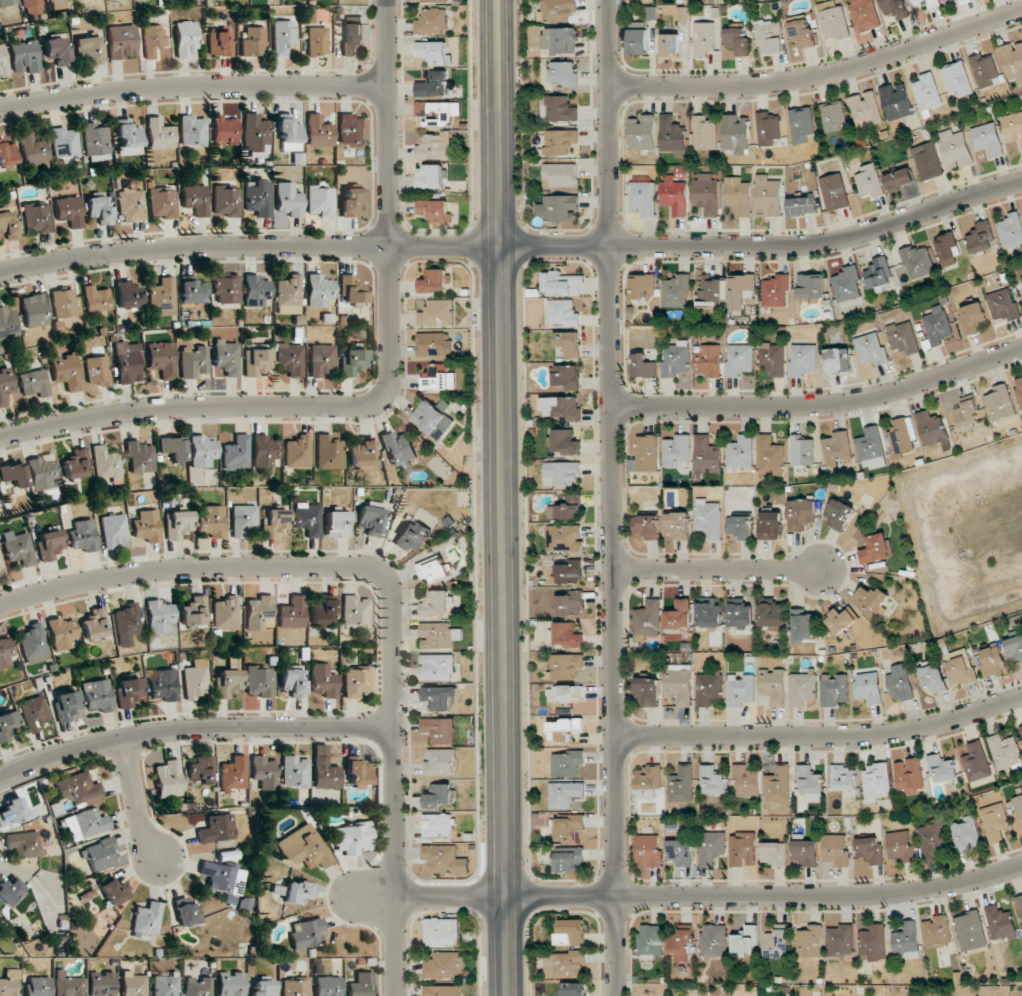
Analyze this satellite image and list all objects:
building: (48, 0)
building: (433, 1)
building: (7, 2)
building: (929, 3)
building: (32, 7)
building: (895, 8)
building: (557, 10)
building: (864, 14)
building: (432, 21)
building: (834, 22)
building: (801, 33)
building: (283, 37)
building: (769, 37)
building: (352, 38)
building: (185, 39)
building: (703, 39)
building: (152, 40)
building: (560, 40)
building: (122, 41)
building: (253, 41)
building: (317, 41)
building: (638, 41)
building: (220, 43)
building: (736, 43)
building: (670, 45)
building: (57, 50)
building: (88, 50)
building: (433, 52)
building: (24, 57)
building: (1012, 62)
building: (3, 63)
building: (985, 70)
building: (564, 73)
road: (820, 74)
building: (957, 79)
building: (432, 84)
road: (192, 88)
building: (927, 92)
building: (896, 101)
building: (866, 108)
building: (558, 109)
building: (437, 112)
building: (833, 116)
building: (801, 124)
building: (1013, 127)
building: (768, 128)
building: (351, 130)
building: (192, 131)
building: (224, 131)
building: (318, 131)
building: (255, 132)
building: (289, 133)
building: (642, 133)
building: (704, 133)
building: (159, 134)
building: (736, 134)
building: (672, 136)
building: (96, 138)
building: (129, 138)
building: (987, 139)
building: (561, 141)
building: (65, 143)
building: (434, 146)
building: (33, 149)
building: (955, 149)
building: (7, 156)
building: (927, 161)
building: (559, 175)
building: (430, 176)
building: (899, 179)
building: (868, 182)
building: (706, 192)
building: (834, 192)
building: (674, 195)
building: (738, 195)
building: (768, 195)
building: (643, 196)
building: (258, 197)
building: (195, 199)
building: (288, 200)
building: (226, 201)
building: (320, 201)
building: (352, 202)
building: (162, 203)
building: (131, 205)
building: (802, 205)
building: (558, 207)
building: (99, 210)
building: (68, 211)
building: (435, 211)
building: (37, 217)
building: (8, 226)
building: (1010, 230)
building: (980, 236)
road: (514, 246)
building: (947, 248)
building: (917, 261)
building: (434, 281)
building: (562, 284)
building: (847, 284)
building: (641, 285)
building: (810, 286)
building: (226, 289)
building: (352, 289)
building: (255, 290)
building: (318, 290)
building: (741, 290)
building: (676, 291)
building: (776, 291)
building: (193, 292)
building: (710, 292)
building: (127, 295)
building: (288, 295)
building: (162, 297)
building: (96, 299)
building: (65, 303)
building: (1003, 304)
building: (34, 311)
building: (562, 312)
building: (437, 313)
building: (972, 318)
building: (7, 322)
building: (937, 325)
building: (903, 337)
building: (568, 343)
building: (434, 344)
building: (871, 349)
building: (227, 357)
building: (290, 358)
building: (773, 358)
building: (161, 359)
building: (677, 359)
building: (739, 359)
building: (803, 359)
building: (321, 360)
building: (838, 360)
building: (193, 361)
building: (351, 361)
building: (709, 361)
building: (256, 362)
building: (127, 364)
building: (642, 366)
building: (97, 370)
building: (66, 371)
building: (566, 376)
building: (438, 379)
building: (33, 384)
building: (5, 385)
road: (382, 389)
building: (1019, 389)
building: (999, 403)
road: (821, 404)
building: (561, 407)
building: (965, 414)
building: (432, 418)
building: (931, 428)
building: (903, 435)
building: (564, 441)
building: (398, 448)
road: (613, 448)
building: (871, 448)
building: (173, 449)
building: (838, 449)
building: (802, 450)
building: (202, 451)
building: (264, 451)
building: (677, 451)
building: (297, 452)
building: (328, 452)
building: (741, 452)
building: (236, 453)
building: (646, 453)
building: (707, 455)
building: (770, 455)
building: (140, 456)
building: (360, 456)
building: (105, 462)
building: (75, 464)
building: (43, 472)
building: (562, 473)
building: (13, 475)
road: (499, 498)
building: (566, 508)
building: (802, 513)
building: (840, 514)
building: (370, 517)
building: (708, 518)
building: (308, 519)
building: (243, 521)
building: (211, 522)
building: (273, 522)
building: (337, 523)
building: (177, 524)
building: (678, 525)
building: (770, 525)
building: (146, 526)
building: (646, 526)
building: (113, 530)
building: (412, 535)
building: (82, 536)
building: (564, 538)
building: (49, 544)
building: (18, 548)
building: (875, 549)
building: (0, 563)
building: (433, 568)
building: (568, 570)
road: (717, 571)
road: (392, 589)
building: (872, 598)
building: (436, 603)
building: (570, 604)
building: (322, 610)
building: (194, 611)
building: (355, 611)
building: (225, 612)
building: (259, 612)
building: (292, 613)
building: (740, 613)
building: (709, 614)
building: (771, 615)
building: (679, 616)
building: (160, 618)
building: (648, 619)
building: (841, 620)
building: (94, 623)
building: (126, 623)
building: (803, 625)
building: (61, 633)
building: (439, 635)
building: (567, 635)
building: (33, 644)
building: (1014, 647)
building: (5, 652)
building: (992, 661)
building: (565, 666)
building: (436, 667)
building: (961, 668)
building: (933, 678)
building: (196, 680)
building: (259, 681)
building: (293, 681)
building: (324, 681)
building: (356, 681)
building: (900, 682)
building: (228, 683)
building: (679, 683)
building: (163, 685)
building: (773, 686)
building: (868, 687)
building: (803, 688)
building: (708, 689)
building: (834, 689)
building: (740, 690)
building: (649, 691)
building: (128, 692)
building: (567, 693)
building: (98, 695)
building: (439, 697)
building: (66, 705)
building: (34, 713)
building: (7, 725)
building: (1021, 728)
building: (563, 729)
building: (439, 730)
road: (193, 731)
road: (821, 735)
building: (1004, 751)
building: (440, 762)
building: (976, 762)
building: (566, 763)
building: (942, 768)
building: (324, 769)
building: (202, 770)
building: (294, 771)
building: (263, 772)
building: (233, 773)
building: (357, 773)
building: (908, 776)
building: (842, 778)
building: (168, 779)
building: (713, 781)
building: (746, 781)
building: (876, 782)
building: (810, 783)
building: (681, 784)
building: (778, 785)
building: (77, 788)
building: (564, 794)
building: (324, 795)
building: (438, 796)
road: (137, 802)
building: (1018, 806)
building: (12, 811)
building: (994, 821)
building: (85, 824)
building: (437, 825)
building: (569, 828)
building: (217, 829)
building: (966, 834)
building: (352, 838)
building: (932, 840)
building: (22, 844)
building: (900, 845)
building: (303, 847)
building: (711, 847)
building: (742, 849)
building: (648, 850)
building: (835, 850)
building: (871, 850)
building: (680, 852)
building: (806, 852)
building: (774, 853)
building: (99, 854)
building: (445, 859)
building: (569, 860)
building: (222, 877)
building: (9, 891)
building: (115, 891)
building: (298, 892)
road: (688, 898)
building: (1019, 905)
building: (188, 914)
building: (147, 919)
building: (1000, 922)
building: (937, 931)
building: (970, 931)
building: (441, 932)
building: (571, 932)
building: (307, 933)
building: (650, 940)
building: (746, 940)
building: (713, 941)
building: (810, 941)
building: (840, 941)
building: (906, 941)
building: (777, 943)
building: (873, 943)
building: (680, 944)
road: (617, 947)
building: (564, 964)
building: (444, 965)
building: (101, 983)
building: (230, 983)
building: (9, 984)
building: (133, 984)
building: (68, 985)
building: (165, 985)
building: (361, 985)
building: (38, 986)
building: (197, 986)
building: (327, 986)
building: (295, 987)
building: (263, 988)
building: (574, 989)
building: (443, 990)

